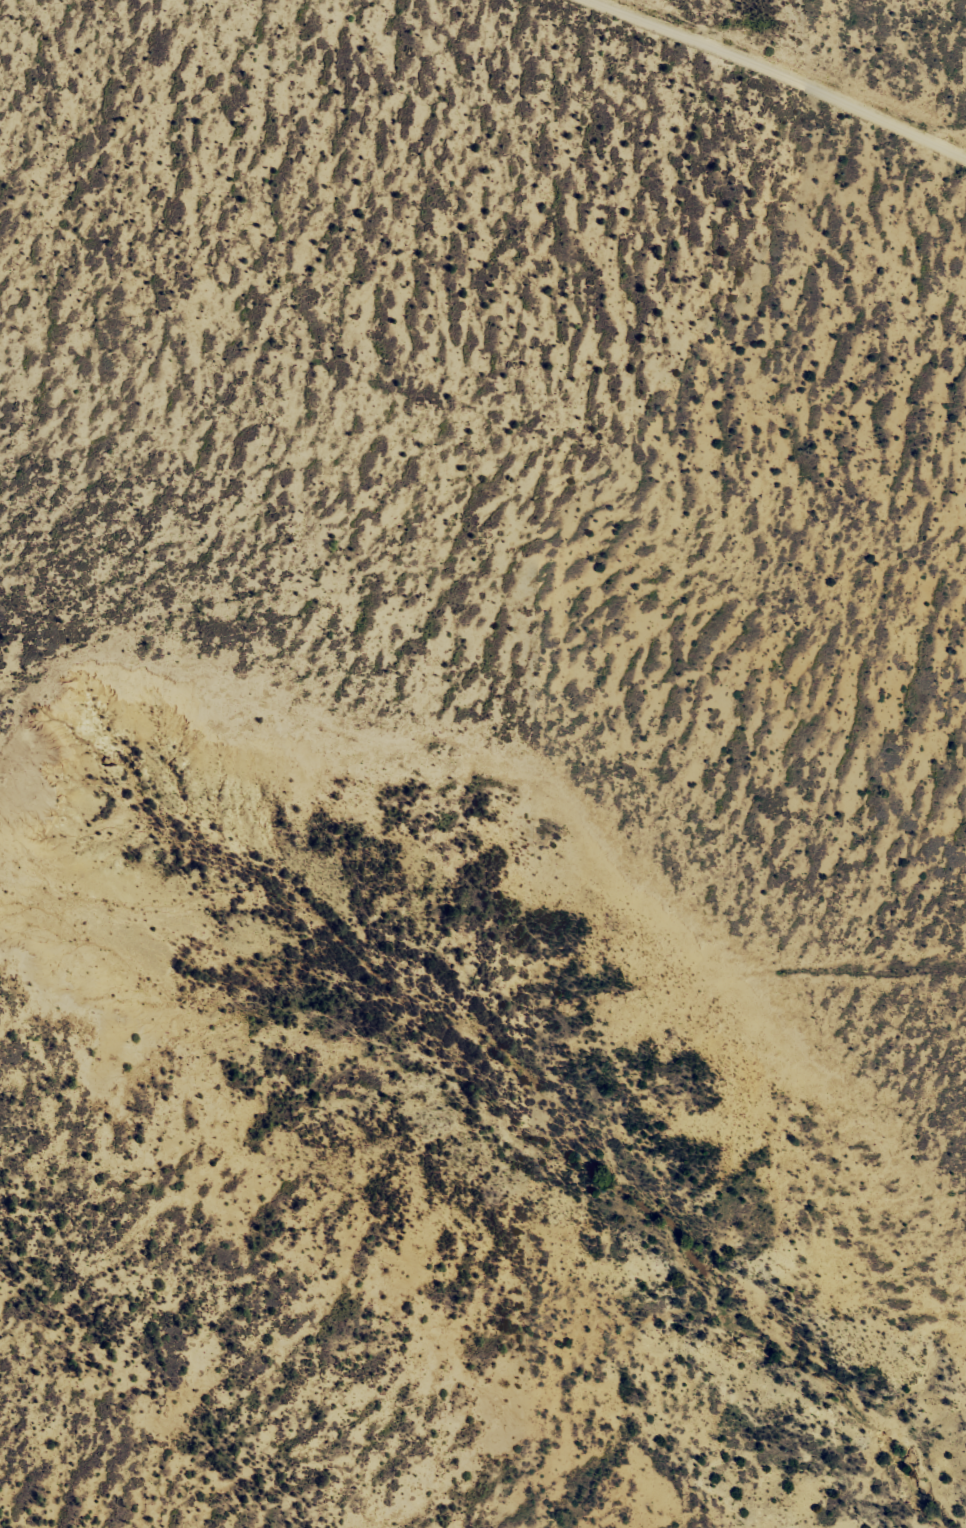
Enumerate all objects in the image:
road: (755, 77)

